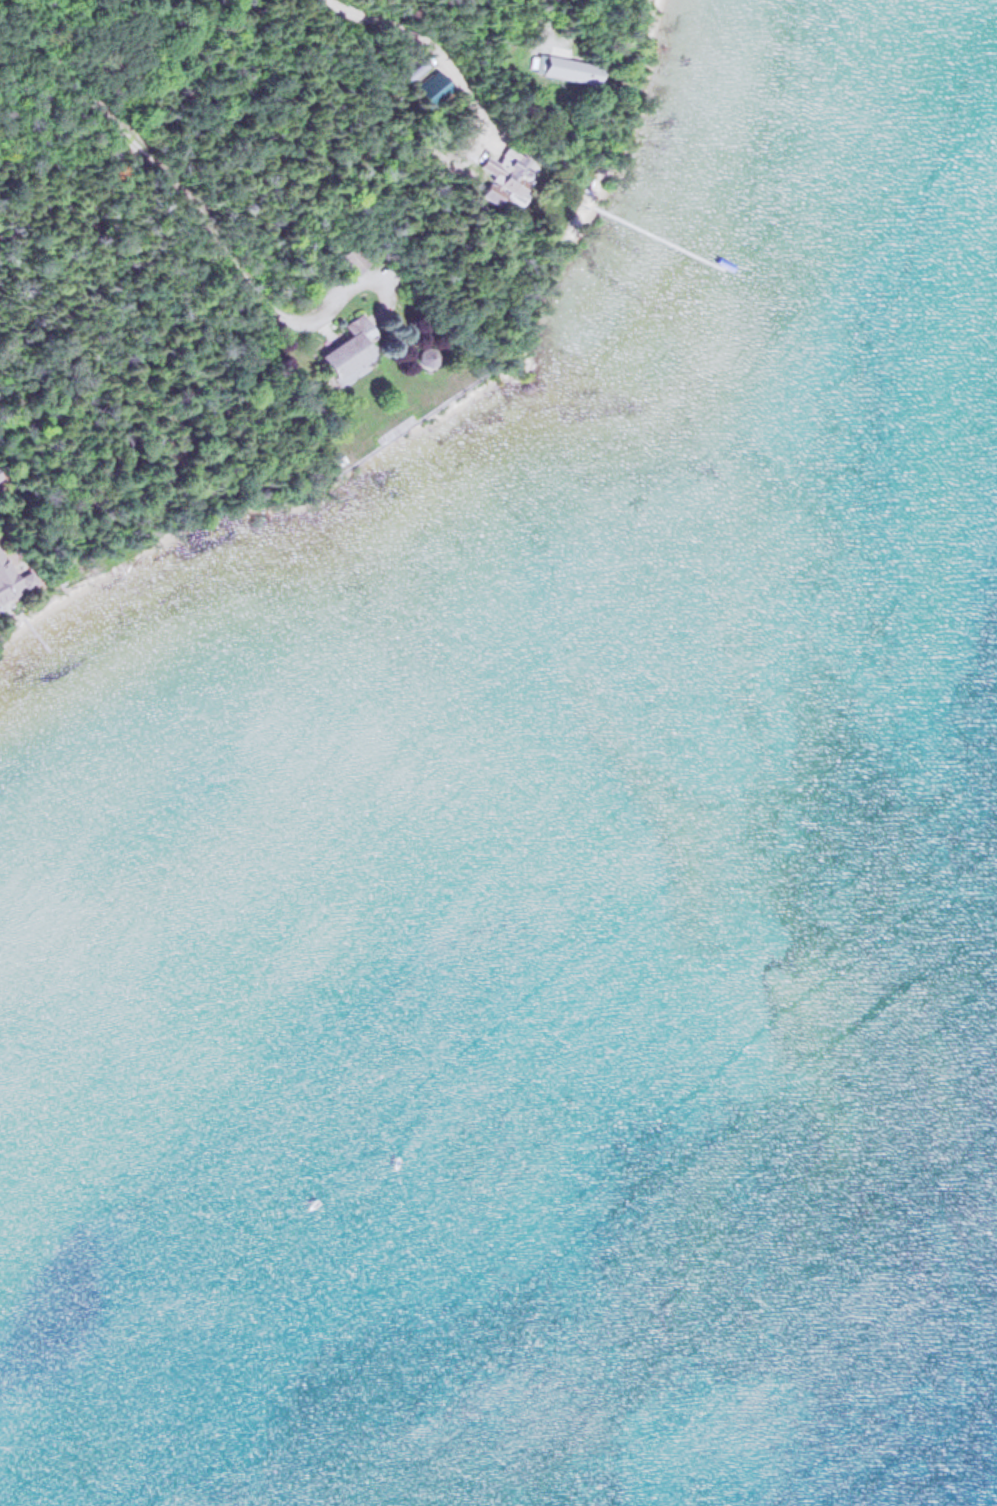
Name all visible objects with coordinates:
road: (435, 45)
building: (570, 68)
building: (436, 87)
building: (510, 176)
road: (187, 199)
building: (354, 350)
building: (429, 354)
building: (0, 476)
building: (13, 578)

